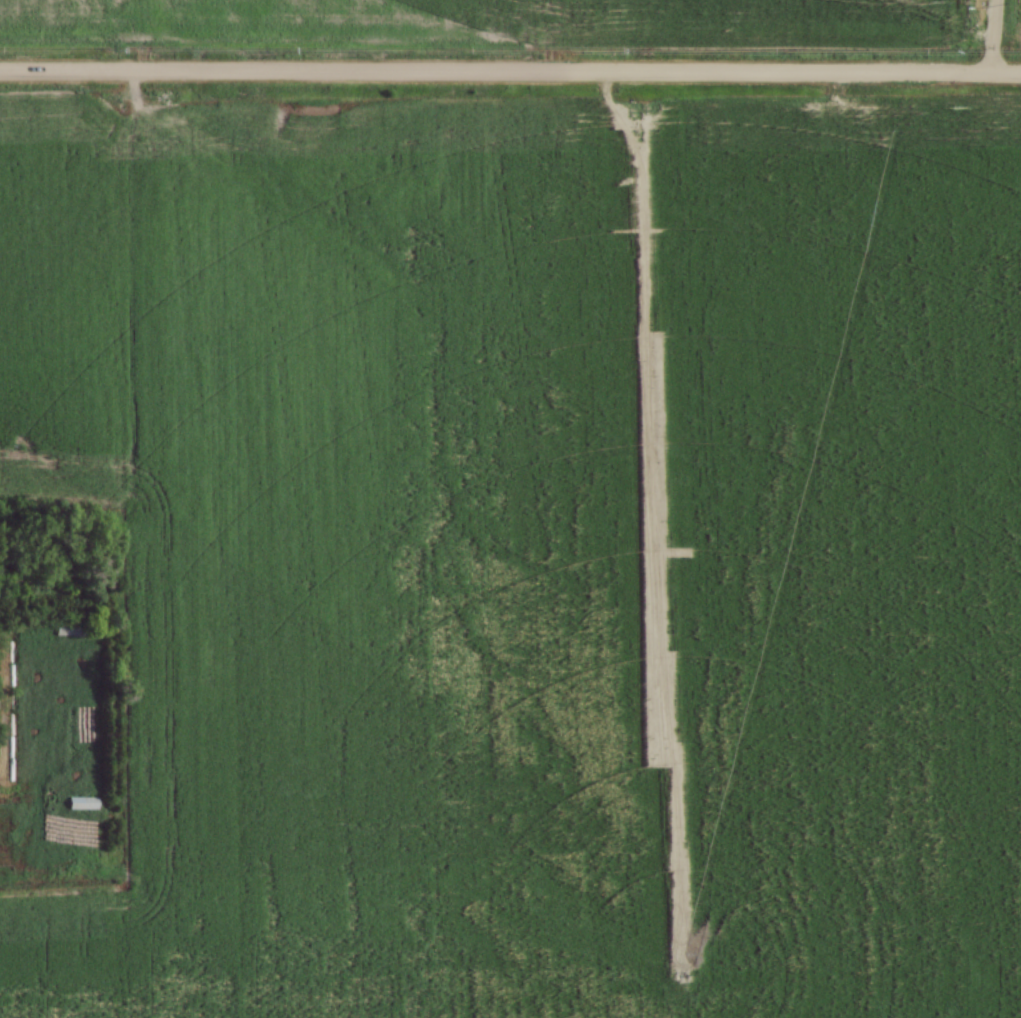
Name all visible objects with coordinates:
crop: (1015, 19)
crop: (495, 21)
road: (993, 36)
road: (510, 75)
crop: (541, 566)
building: (78, 630)
building: (84, 801)

